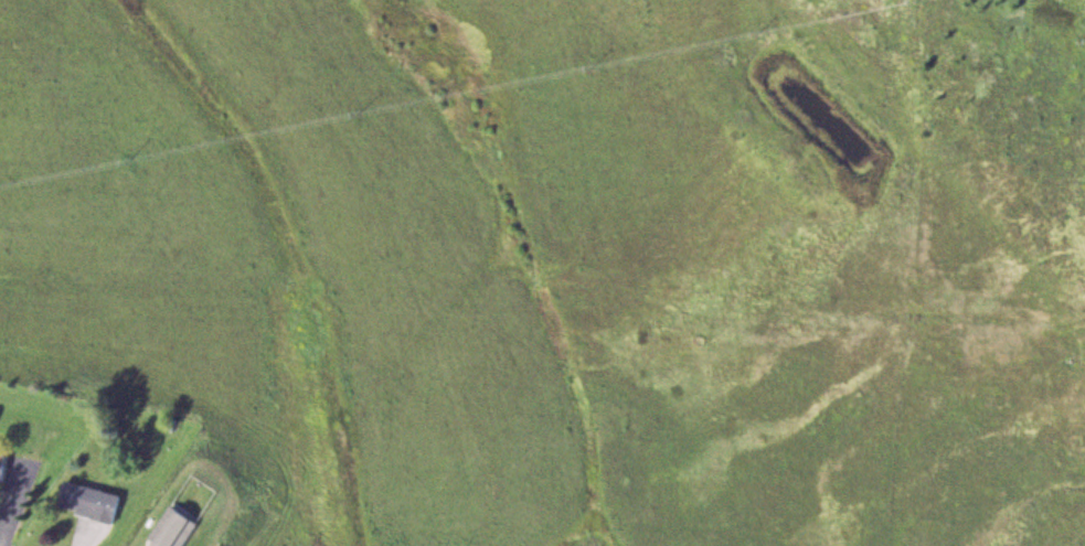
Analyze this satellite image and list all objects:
building: (3, 462)
building: (91, 500)
building: (180, 529)

